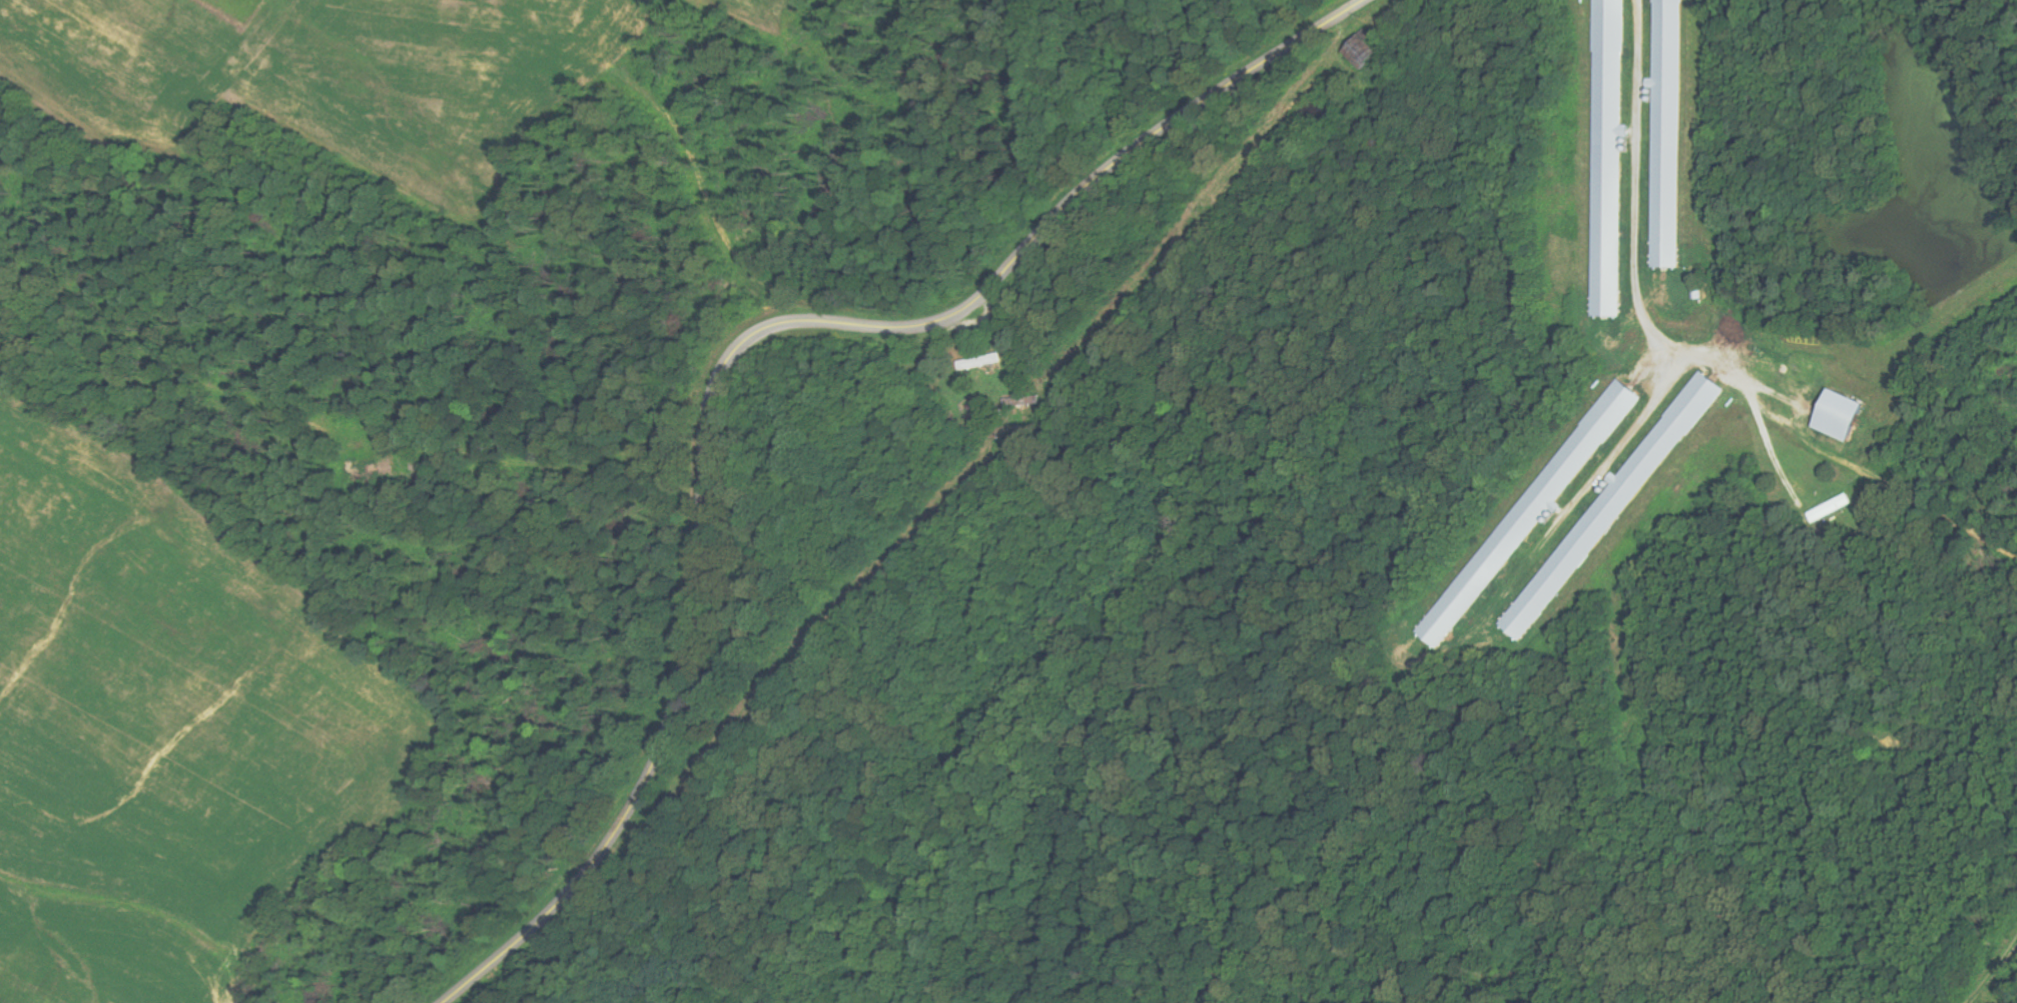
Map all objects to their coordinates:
building: (1366, 51)
building: (1670, 134)
building: (1610, 157)
road: (741, 352)
building: (982, 362)
building: (1842, 415)
building: (1537, 506)
building: (1834, 508)
building: (1608, 514)

